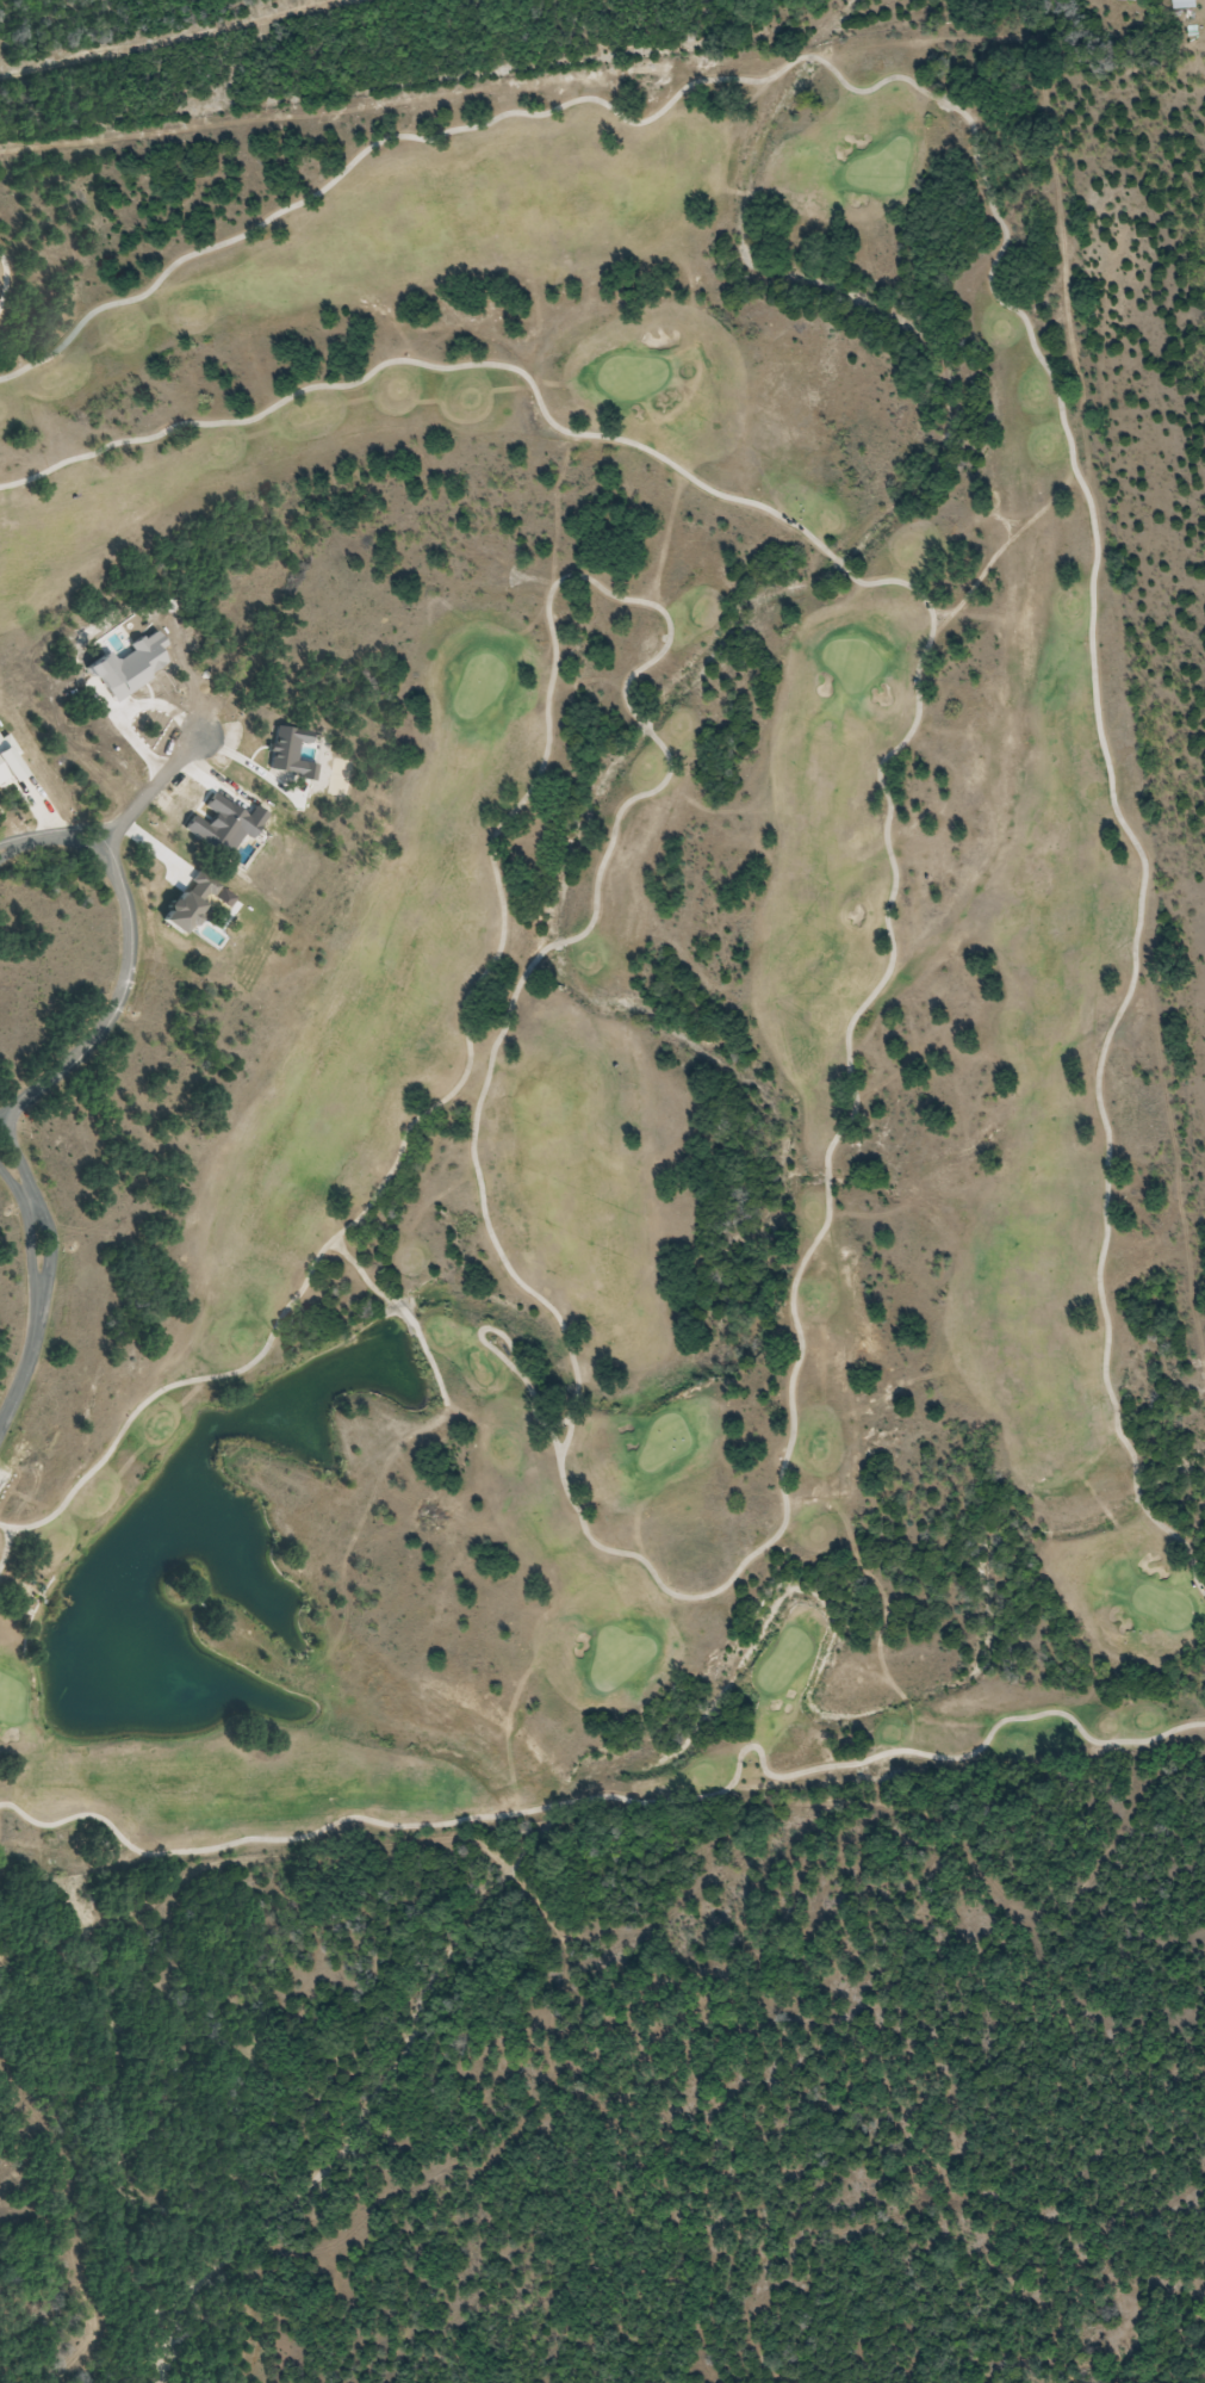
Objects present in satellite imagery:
building: (1128, 0)
building: (1182, 4)
road: (174, 37)
road: (6, 280)
road: (1025, 320)
road: (1069, 481)
road: (1010, 521)
road: (1010, 530)
road: (1000, 550)
road: (940, 611)
road: (63, 832)
road: (11, 843)
road: (11, 849)
road: (129, 929)
park: (574, 963)
road: (0, 1120)
road: (37, 1200)
road: (27, 1221)
road: (403, 1310)
road: (514, 1351)
road: (29, 1355)
road: (563, 1474)
road: (6, 1546)
road: (629, 1800)

